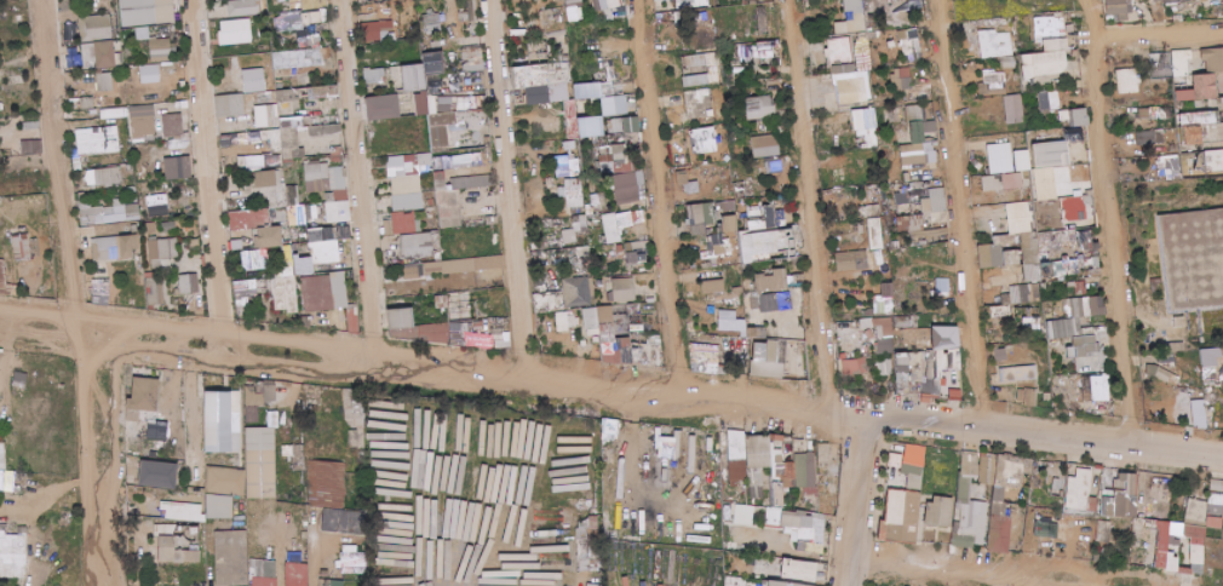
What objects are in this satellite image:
building: (231, 0)
building: (390, 0)
building: (533, 0)
building: (558, 0)
building: (911, 0)
building: (1198, 0)
building: (379, 1)
building: (570, 1)
building: (1114, 1)
building: (1156, 1)
building: (719, 2)
building: (867, 2)
building: (913, 2)
building: (1178, 2)
building: (605, 4)
building: (690, 4)
building: (1218, 4)
building: (407, 5)
building: (258, 6)
building: (854, 6)
building: (900, 6)
building: (240, 7)
building: (908, 10)
building: (1118, 10)
building: (147, 12)
building: (323, 12)
building: (572, 12)
building: (578, 12)
building: (509, 13)
building: (621, 13)
building: (420, 15)
building: (1072, 15)
building: (464, 16)
building: (473, 16)
building: (688, 16)
building: (1194, 16)
building: (311, 17)
building: (871, 17)
building: (561, 18)
building: (679, 18)
building: (553, 19)
building: (1175, 19)
building: (291, 21)
building: (431, 21)
building: (856, 23)
building: (213, 24)
building: (603, 25)
building: (1049, 27)
building: (94, 28)
building: (840, 28)
building: (921, 29)
building: (361, 30)
building: (383, 30)
building: (235, 31)
building: (371, 31)
building: (142, 33)
building: (912, 33)
road: (1158, 33)
building: (128, 34)
building: (556, 34)
building: (392, 36)
building: (862, 36)
building: (1027, 38)
building: (1037, 39)
building: (584, 40)
building: (592, 40)
building: (309, 41)
building: (999, 41)
building: (328, 44)
building: (773, 44)
building: (891, 44)
building: (908, 44)
building: (1041, 44)
building: (1056, 44)
building: (262, 46)
building: (764, 46)
building: (173, 47)
building: (542, 47)
building: (1038, 47)
building: (160, 50)
building: (535, 50)
building: (114, 51)
building: (900, 52)
building: (745, 53)
building: (1074, 53)
building: (104, 54)
building: (558, 54)
building: (87, 56)
building: (862, 56)
building: (472, 58)
building: (567, 58)
building: (911, 58)
building: (119, 59)
building: (538, 59)
building: (811, 59)
building: (1026, 59)
building: (551, 61)
building: (765, 61)
building: (1212, 61)
building: (735, 62)
building: (926, 62)
building: (1007, 62)
building: (1047, 62)
building: (236, 63)
building: (432, 63)
building: (970, 63)
building: (1155, 63)
building: (1178, 63)
building: (694, 64)
building: (712, 67)
building: (366, 68)
building: (842, 68)
building: (615, 69)
building: (99, 70)
building: (773, 70)
building: (569, 71)
building: (988, 71)
building: (1026, 71)
building: (150, 73)
building: (392, 73)
building: (540, 74)
building: (596, 74)
building: (13, 75)
building: (374, 75)
building: (412, 77)
building: (482, 77)
building: (471, 79)
building: (695, 79)
building: (901, 79)
building: (253, 80)
building: (1137, 80)
building: (104, 81)
building: (308, 81)
building: (1125, 81)
building: (183, 84)
building: (283, 84)
building: (993, 84)
building: (1078, 84)
building: (852, 86)
building: (1201, 86)
building: (730, 87)
building: (1173, 87)
building: (610, 88)
building: (552, 91)
building: (586, 91)
building: (1078, 91)
building: (321, 92)
building: (299, 93)
building: (561, 93)
building: (287, 94)
building: (424, 94)
building: (536, 94)
building: (928, 94)
building: (918, 96)
building: (1182, 96)
building: (264, 97)
building: (730, 98)
building: (249, 99)
building: (524, 99)
building: (551, 99)
building: (596, 99)
building: (1221, 100)
building: (1049, 102)
building: (87, 103)
building: (420, 103)
building: (431, 103)
building: (455, 103)
building: (752, 103)
building: (180, 104)
building: (699, 104)
building: (856, 104)
building: (229, 105)
building: (546, 105)
building: (613, 105)
building: (1, 107)
building: (383, 107)
building: (285, 108)
building: (582, 108)
building: (1014, 108)
building: (415, 109)
building: (763, 109)
building: (93, 110)
building: (126, 111)
building: (591, 111)
building: (111, 113)
building: (564, 113)
building: (783, 113)
building: (915, 113)
building: (1143, 113)
building: (276, 114)
building: (900, 114)
building: (264, 115)
building: (1039, 115)
building: (1063, 115)
building: (1161, 115)
building: (1211, 116)
building: (867, 117)
building: (1074, 117)
building: (1200, 117)
building: (1218, 117)
building: (572, 119)
building: (783, 119)
building: (855, 119)
building: (1185, 119)
building: (142, 121)
building: (298, 121)
building: (1176, 121)
building: (1219, 121)
building: (287, 122)
building: (1083, 123)
building: (31, 125)
building: (616, 125)
building: (631, 125)
building: (671, 125)
building: (687, 125)
building: (740, 125)
building: (764, 125)
building: (851, 125)
building: (173, 126)
building: (586, 126)
building: (929, 126)
building: (1148, 126)
building: (609, 127)
building: (302, 128)
building: (188, 130)
building: (559, 130)
building: (323, 131)
building: (915, 131)
building: (733, 132)
building: (1210, 132)
building: (134, 133)
building: (1066, 134)
building: (1075, 134)
building: (1188, 134)
building: (255, 136)
building: (561, 136)
building: (865, 136)
building: (1043, 136)
building: (1178, 136)
building: (1148, 137)
building: (235, 138)
building: (442, 138)
building: (595, 138)
building: (735, 138)
building: (128, 139)
building: (133, 139)
building: (272, 139)
building: (701, 139)
building: (929, 139)
building: (97, 140)
building: (288, 140)
building: (850, 140)
building: (178, 142)
building: (266, 142)
building: (871, 142)
building: (878, 142)
building: (257, 143)
building: (722, 143)
building: (40, 145)
building: (225, 145)
building: (765, 145)
building: (29, 146)
building: (1171, 146)
building: (488, 149)
building: (608, 149)
building: (1185, 149)
building: (335, 150)
building: (570, 150)
building: (892, 150)
building: (298, 153)
building: (712, 153)
building: (265, 154)
building: (276, 154)
building: (619, 154)
building: (917, 154)
building: (1047, 154)
road: (62, 156)
building: (572, 156)
building: (1001, 156)
building: (337, 157)
building: (628, 157)
building: (75, 159)
building: (424, 159)
building: (787, 159)
building: (1063, 159)
building: (457, 160)
building: (1021, 160)
building: (262, 161)
building: (242, 162)
building: (288, 162)
building: (306, 162)
building: (314, 162)
building: (1158, 162)
building: (607, 163)
building: (977, 163)
building: (401, 165)
building: (564, 165)
building: (597, 165)
building: (773, 165)
building: (1169, 165)
building: (76, 166)
building: (574, 167)
building: (622, 167)
building: (423, 168)
building: (130, 170)
building: (325, 170)
building: (989, 171)
building: (1050, 171)
building: (344, 172)
building: (682, 172)
building: (1061, 173)
building: (277, 176)
building: (1149, 176)
building: (102, 177)
building: (906, 177)
building: (264, 178)
building: (315, 178)
building: (337, 178)
building: (682, 178)
building: (597, 179)
road: (208, 180)
building: (252, 180)
building: (438, 180)
road: (358, 182)
building: (472, 182)
building: (1003, 182)
building: (549, 183)
building: (610, 183)
building: (406, 184)
building: (641, 184)
building: (1041, 184)
building: (139, 185)
building: (1125, 185)
building: (447, 186)
road: (507, 186)
building: (693, 186)
building: (626, 188)
building: (685, 188)
building: (920, 188)
building: (427, 189)
building: (487, 189)
building: (492, 189)
building: (743, 189)
building: (568, 193)
building: (576, 193)
building: (911, 194)
building: (81, 195)
building: (275, 195)
building: (292, 195)
building: (339, 195)
road: (660, 195)
building: (329, 196)
building: (902, 196)
building: (156, 199)
building: (378, 199)
building: (407, 201)
building: (932, 201)
building: (431, 202)
building: (595, 202)
building: (786, 202)
building: (335, 205)
road: (806, 205)
building: (343, 206)
building: (902, 206)
building: (918, 206)
building: (162, 207)
building: (448, 207)
building: (1063, 207)
building: (151, 208)
building: (578, 209)
building: (588, 209)
building: (869, 209)
building: (131, 211)
building: (312, 211)
building: (104, 212)
road: (961, 212)
building: (701, 213)
building: (762, 214)
building: (1066, 214)
building: (344, 216)
building: (263, 217)
building: (934, 217)
building: (780, 218)
building: (1030, 218)
building: (489, 219)
building: (494, 219)
building: (579, 219)
building: (833, 219)
road: (1110, 219)
building: (243, 220)
building: (557, 220)
building: (563, 220)
building: (746, 220)
building: (1010, 220)
building: (403, 222)
building: (608, 222)
building: (549, 223)
building: (909, 223)
building: (297, 224)
building: (418, 224)
building: (729, 224)
building: (756, 224)
building: (149, 226)
building: (387, 226)
building: (433, 226)
building: (859, 226)
building: (134, 228)
building: (165, 228)
building: (580, 228)
building: (1004, 229)
building: (697, 230)
building: (711, 230)
building: (719, 230)
building: (757, 230)
building: (1063, 230)
building: (337, 232)
building: (935, 232)
building: (1041, 232)
building: (611, 234)
building: (314, 235)
building: (580, 235)
building: (1017, 235)
building: (269, 236)
building: (569, 236)
building: (153, 237)
building: (790, 237)
building: (436, 239)
building: (751, 239)
building: (1003, 239)
building: (597, 240)
building: (777, 240)
building: (1086, 240)
building: (194, 242)
building: (255, 242)
building: (540, 242)
building: (718, 243)
building: (417, 245)
building: (533, 245)
building: (1060, 245)
building: (21, 246)
building: (127, 246)
building: (613, 246)
building: (174, 247)
building: (592, 247)
building: (608, 247)
building: (619, 247)
building: (637, 247)
building: (710, 247)
building: (727, 247)
building: (108, 248)
building: (159, 248)
building: (270, 248)
building: (1028, 248)
building: (94, 249)
building: (302, 249)
building: (325, 251)
building: (572, 251)
building: (585, 252)
building: (534, 253)
building: (610, 253)
building: (885, 254)
building: (286, 255)
building: (991, 255)
building: (438, 257)
building: (635, 257)
building: (140, 258)
building: (1010, 258)
building: (1045, 258)
building: (1064, 258)
building: (255, 259)
building: (1055, 259)
building: (23, 260)
building: (777, 260)
building: (796, 260)
building: (845, 260)
building: (861, 260)
building: (1020, 260)
building: (488, 262)
building: (739, 262)
building: (156, 263)
building: (1093, 263)
building: (302, 265)
building: (458, 265)
building: (584, 266)
building: (690, 266)
building: (747, 266)
building: (433, 268)
building: (1057, 268)
building: (424, 269)
building: (1046, 270)
building: (277, 271)
building: (287, 271)
building: (766, 271)
building: (293, 272)
building: (351, 272)
building: (412, 272)
building: (1030, 272)
building: (1095, 272)
building: (150, 275)
building: (8, 276)
building: (265, 276)
building: (740, 276)
building: (1006, 276)
building: (1043, 278)
building: (547, 280)
building: (770, 280)
building: (794, 281)
building: (188, 283)
building: (599, 283)
building: (752, 283)
building: (931, 283)
building: (1155, 283)
building: (105, 285)
building: (1070, 285)
building: (240, 286)
building: (490, 286)
building: (591, 286)
building: (713, 286)
building: (1043, 286)
building: (1081, 286)
building: (265, 287)
building: (561, 287)
building: (540, 288)
building: (943, 288)
building: (252, 289)
building: (338, 289)
building: (622, 289)
building: (739, 289)
building: (151, 291)
building: (177, 291)
building: (443, 291)
building: (575, 291)
building: (886, 291)
building: (99, 292)
building: (317, 292)
building: (161, 293)
building: (285, 293)
building: (717, 293)
building: (1034, 293)
building: (1068, 293)
building: (747, 294)
building: (1020, 294)
building: (449, 295)
building: (460, 295)
building: (609, 295)
building: (710, 298)
building: (1005, 298)
building: (550, 300)
building: (503, 301)
building: (775, 301)
building: (1162, 301)
building: (241, 303)
building: (754, 303)
building: (305, 305)
building: (883, 305)
building: (1067, 305)
building: (1095, 305)
building: (150, 306)
building: (576, 306)
building: (840, 306)
building: (1079, 306)
building: (461, 309)
building: (620, 309)
building: (453, 310)
building: (1000, 311)
building: (570, 312)
building: (582, 312)
building: (604, 312)
building: (867, 312)
building: (1028, 312)
building: (1035, 312)
building: (1045, 314)
building: (463, 315)
building: (1020, 316)
building: (352, 317)
building: (400, 317)
building: (488, 317)
building: (591, 317)
building: (926, 317)
building: (243, 318)
building: (498, 320)
building: (578, 320)
building: (722, 320)
building: (1087, 320)
building: (304, 321)
building: (488, 321)
building: (561, 321)
building: (572, 321)
building: (905, 321)
building: (1178, 321)
building: (492, 323)
building: (736, 323)
building: (1030, 323)
road: (173, 324)
building: (478, 324)
building: (884, 324)
building: (776, 326)
building: (1057, 327)
building: (615, 329)
building: (506, 331)
building: (605, 331)
building: (868, 331)
building: (465, 332)
building: (496, 332)
building: (592, 332)
building: (751, 332)
building: (759, 332)
building: (455, 333)
building: (1032, 334)
building: (1049, 334)
building: (849, 335)
building: (913, 335)
building: (1064, 335)
building: (930, 337)
building: (946, 337)
building: (596, 339)
building: (1202, 339)
building: (923, 340)
building: (478, 341)
building: (500, 343)
building: (930, 343)
building: (1053, 343)
building: (884, 345)
building: (1083, 345)
building: (994, 346)
building: (1175, 346)
building: (1009, 347)
building: (616, 350)
building: (770, 350)
building: (758, 351)
building: (780, 351)
building: (953, 352)
building: (645, 354)
building: (937, 354)
building: (1000, 354)
road: (170, 355)
building: (704, 357)
building: (844, 357)
building: (1171, 357)
building: (1166, 360)
building: (901, 362)
building: (863, 363)
building: (914, 364)
building: (850, 366)
building: (883, 366)
building: (720, 368)
building: (765, 368)
building: (942, 370)
building: (1206, 372)
building: (1018, 373)
building: (1161, 373)
building: (908, 374)
building: (905, 375)
building: (928, 378)
building: (19, 379)
road: (607, 383)
building: (840, 383)
building: (900, 383)
building: (1216, 384)
building: (63, 385)
building: (1092, 385)
building: (259, 386)
building: (913, 386)
building: (143, 395)
building: (1027, 396)
building: (1046, 396)
building: (253, 397)
building: (235, 403)
building: (354, 408)
building: (1198, 412)
building: (252, 414)
building: (140, 415)
building: (217, 421)
building: (578, 421)
building: (1200, 423)
building: (1194, 426)
building: (581, 427)
building: (611, 429)
road: (1049, 430)
road: (633, 431)
building: (157, 432)
building: (259, 437)
building: (356, 437)
building: (731, 438)
building: (775, 438)
building: (785, 439)
building: (776, 447)
building: (355, 448)
road: (82, 449)
building: (298, 449)
building: (287, 450)
building: (735, 452)
building: (757, 452)
building: (823, 453)
building: (970, 453)
building: (2, 455)
building: (608, 456)
building: (776, 459)
building: (895, 460)
building: (912, 460)
building: (298, 461)
building: (288, 463)
building: (969, 465)
building: (360, 467)
building: (610, 467)
building: (735, 469)
building: (764, 469)
building: (986, 469)
building: (746, 470)
building: (804, 470)
building: (1011, 470)
building: (260, 472)
building: (157, 473)
building: (776, 473)
building: (134, 476)
building: (754, 476)
building: (787, 477)
building: (1120, 477)
building: (7, 479)
building: (225, 481)
building: (820, 481)
building: (1026, 481)
building: (913, 482)
building: (327, 483)
building: (1116, 484)
building: (1127, 484)
building: (1056, 486)
building: (1215, 486)
building: (895, 487)
building: (348, 489)
building: (963, 489)
building: (974, 489)
building: (1188, 489)
building: (1181, 490)
building: (754, 492)
building: (774, 493)
building: (810, 493)
building: (997, 494)
road: (42, 495)
building: (1213, 498)
building: (757, 500)
road: (866, 500)
building: (565, 501)
building: (381, 502)
building: (396, 502)
building: (774, 502)
building: (391, 504)
building: (1090, 504)
building: (958, 505)
building: (1122, 505)
building: (219, 506)
building: (826, 506)
building: (997, 507)
building: (356, 509)
building: (1009, 509)
building: (1107, 509)
building: (1213, 509)
building: (1101, 510)
building: (937, 511)
building: (793, 512)
building: (1194, 512)
building: (828, 516)
building: (741, 518)
building: (771, 518)
building: (903, 518)
building: (305, 519)
building: (403, 519)
building: (972, 519)
building: (1045, 519)
building: (309, 521)
building: (790, 521)
building: (344, 522)
building: (1211, 522)
building: (1154, 524)
building: (1222, 524)
building: (1162, 527)
building: (805, 528)
building: (1176, 528)
building: (168, 529)
building: (819, 529)
building: (1045, 529)
building: (22, 530)
building: (1193, 530)
building: (998, 532)
building: (1103, 532)
building: (188, 533)
building: (1213, 533)
building: (793, 534)
building: (304, 535)
building: (609, 536)
building: (748, 536)
building: (2, 538)
building: (631, 538)
building: (1170, 538)
building: (587, 539)
building: (963, 539)
building: (764, 541)
building: (1161, 542)
building: (184, 544)
building: (199, 545)
building: (804, 545)
building: (817, 547)
building: (165, 548)
building: (763, 548)
building: (1172, 550)
building: (1195, 550)
building: (412, 551)
building: (1075, 551)
building: (1137, 551)
building: (423, 552)
building: (344, 555)
building: (12, 556)
building: (191, 556)
building: (1096, 556)
building: (179, 557)
building: (230, 557)
building: (820, 557)
building: (601, 559)
building: (1160, 559)
road: (459, 561)
building: (357, 562)
building: (1171, 563)
building: (1199, 564)
building: (588, 565)
building: (262, 568)
building: (783, 568)
road: (35, 569)
building: (345, 569)
building: (800, 569)
building: (1195, 569)
road: (989, 570)
building: (1211, 570)
building: (325, 573)
building: (297, 574)
building: (383, 580)
building: (264, 581)
building: (733, 581)
building: (763, 582)
building: (338, 584)
building: (780, 584)
building: (805, 585)

